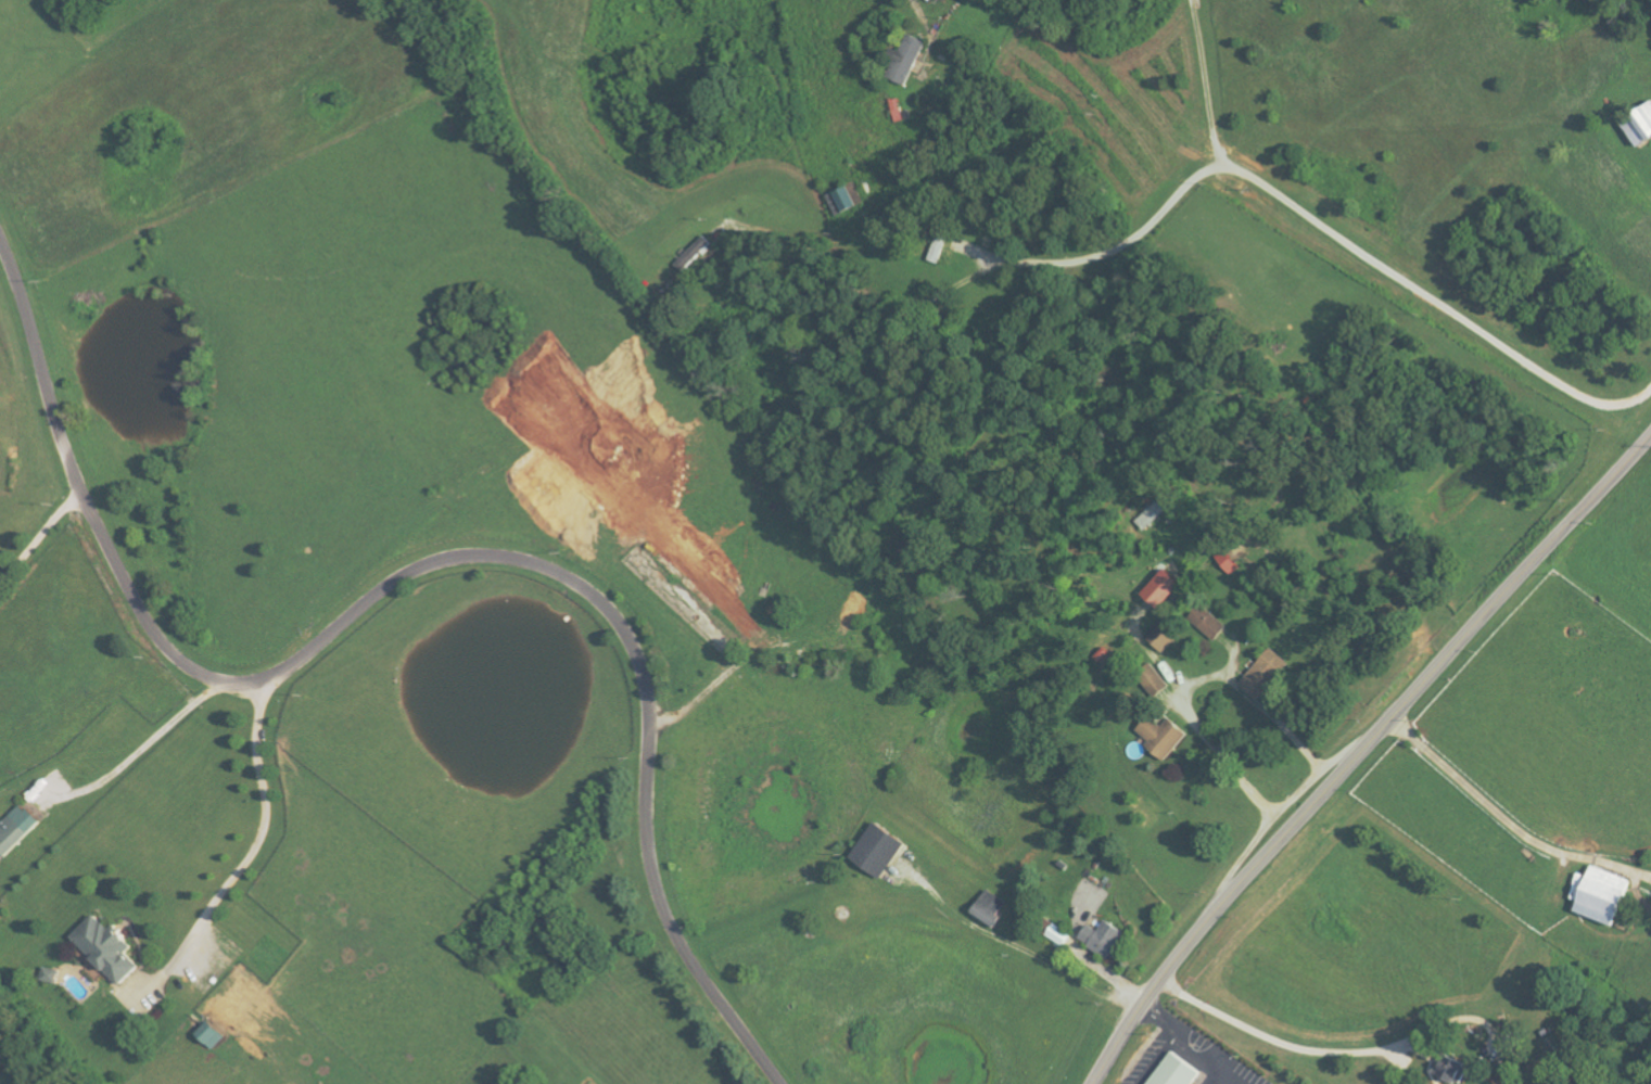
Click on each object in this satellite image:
road: (922, 5)
building: (910, 60)
road: (1202, 81)
building: (1640, 126)
building: (844, 201)
road: (1309, 208)
building: (697, 253)
road: (862, 286)
road: (39, 540)
road: (407, 579)
building: (1164, 589)
building: (1209, 623)
building: (1166, 635)
road: (791, 655)
building: (1266, 676)
road: (1185, 704)
building: (1164, 738)
road: (1361, 752)
road: (141, 753)
road: (1510, 819)
building: (16, 830)
building: (880, 851)
road: (250, 853)
building: (1605, 896)
building: (992, 909)
building: (1062, 935)
building: (1105, 939)
building: (109, 949)
road: (1164, 1018)
building: (212, 1035)
road: (1204, 1048)
road: (1334, 1049)
road: (1163, 1057)
building: (1451, 1070)
building: (1176, 1072)
road: (1218, 1074)

